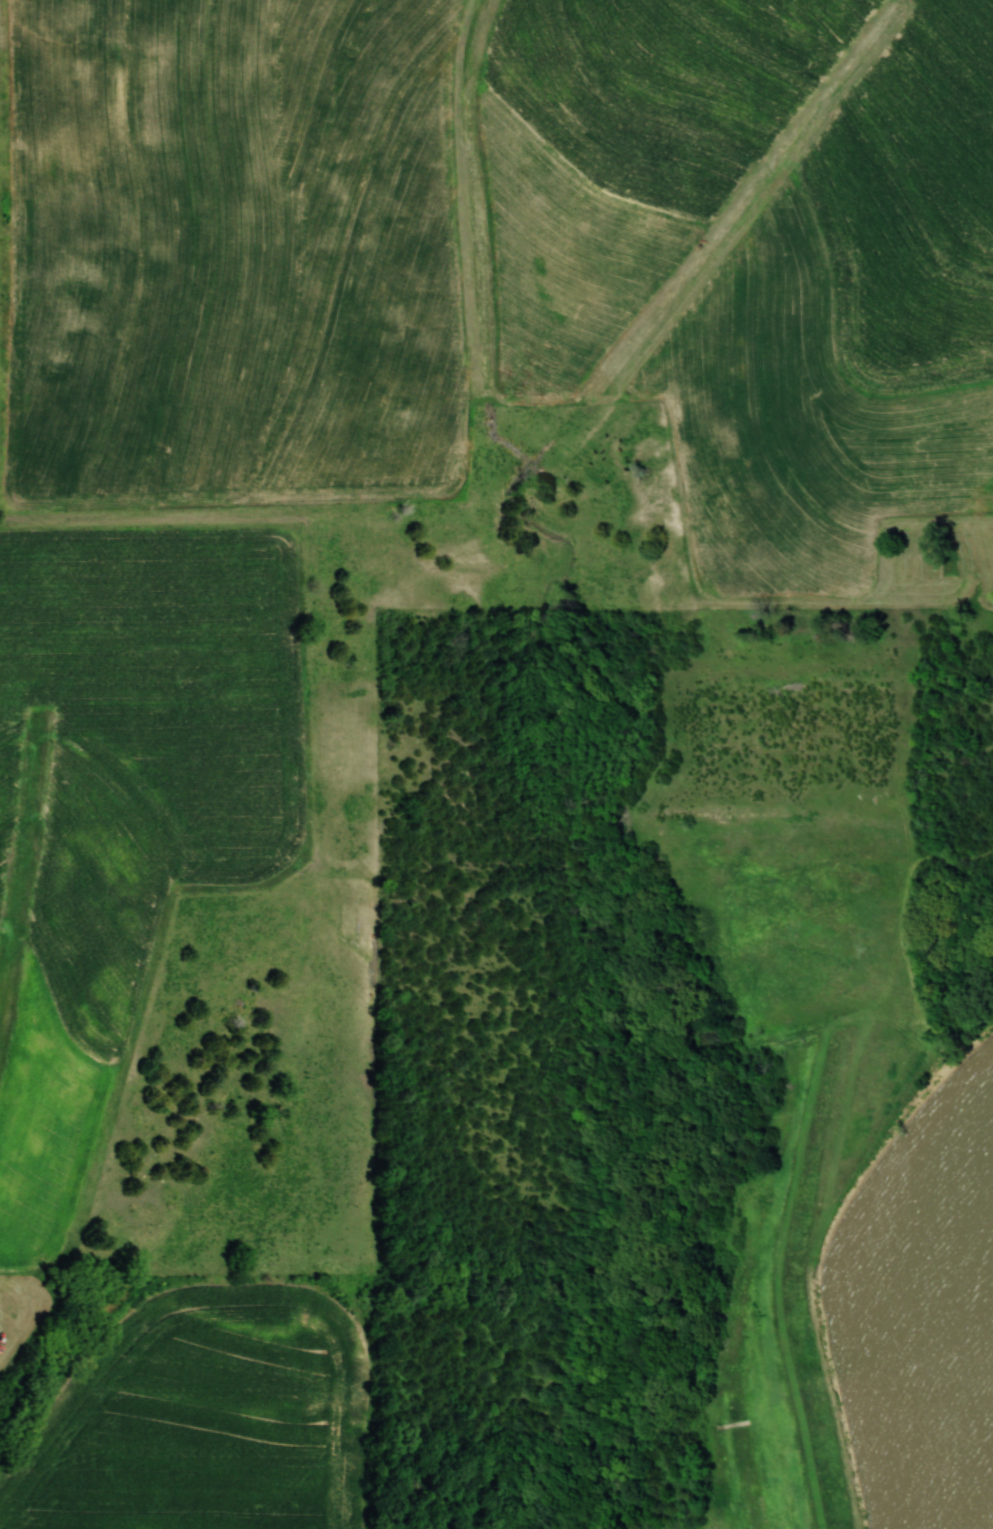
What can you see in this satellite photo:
park: (683, 1067)
dam: (796, 1261)

